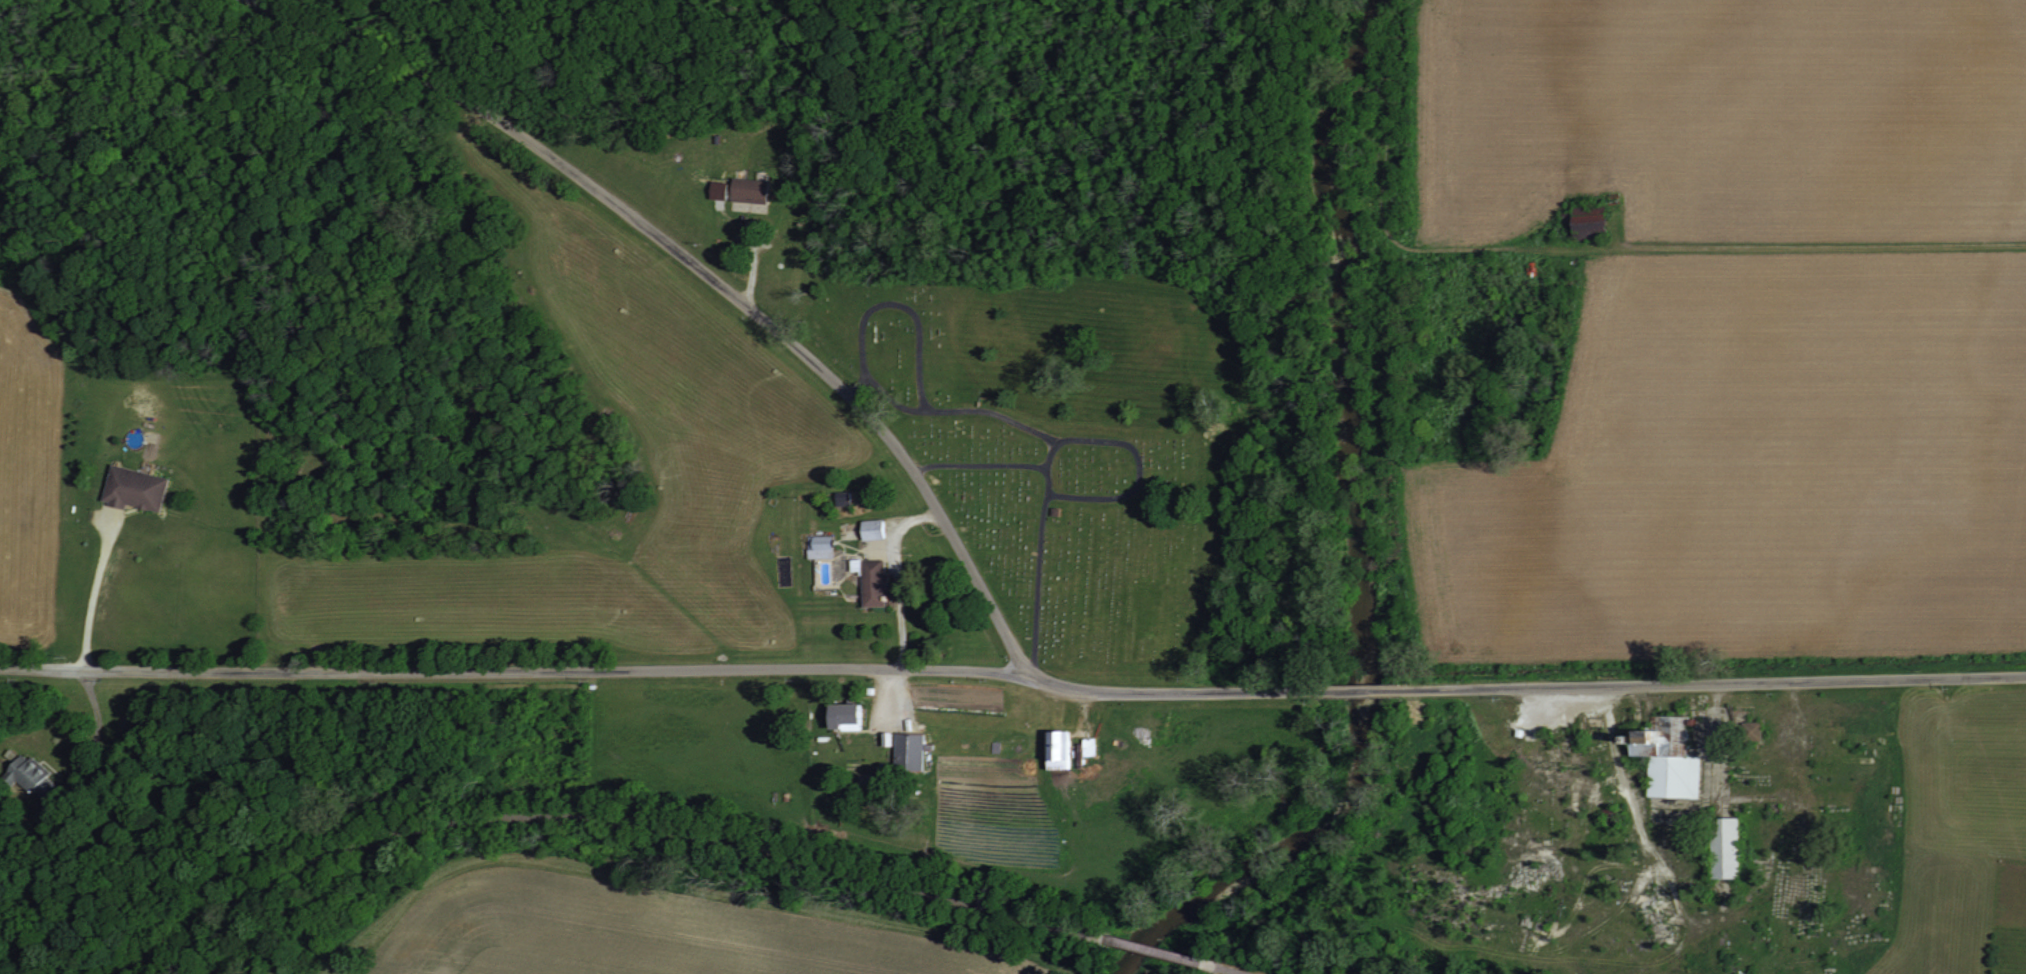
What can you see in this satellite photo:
building: (715, 189)
building: (747, 189)
building: (1588, 225)
road: (1822, 241)
road: (700, 268)
road: (872, 305)
road: (990, 409)
park: (1071, 446)
road: (1051, 452)
road: (981, 463)
building: (132, 488)
building: (870, 529)
building: (819, 547)
road: (898, 571)
building: (873, 583)
road: (92, 590)
road: (664, 668)
road: (1713, 680)
road: (1364, 688)
building: (843, 717)
building: (1752, 731)
building: (1087, 746)
building: (1057, 750)
building: (907, 751)
building: (1666, 758)
road: (1616, 759)
building: (967, 761)
building: (32, 775)
road: (593, 816)
building: (1724, 848)
road: (1147, 949)
road: (1222, 968)

